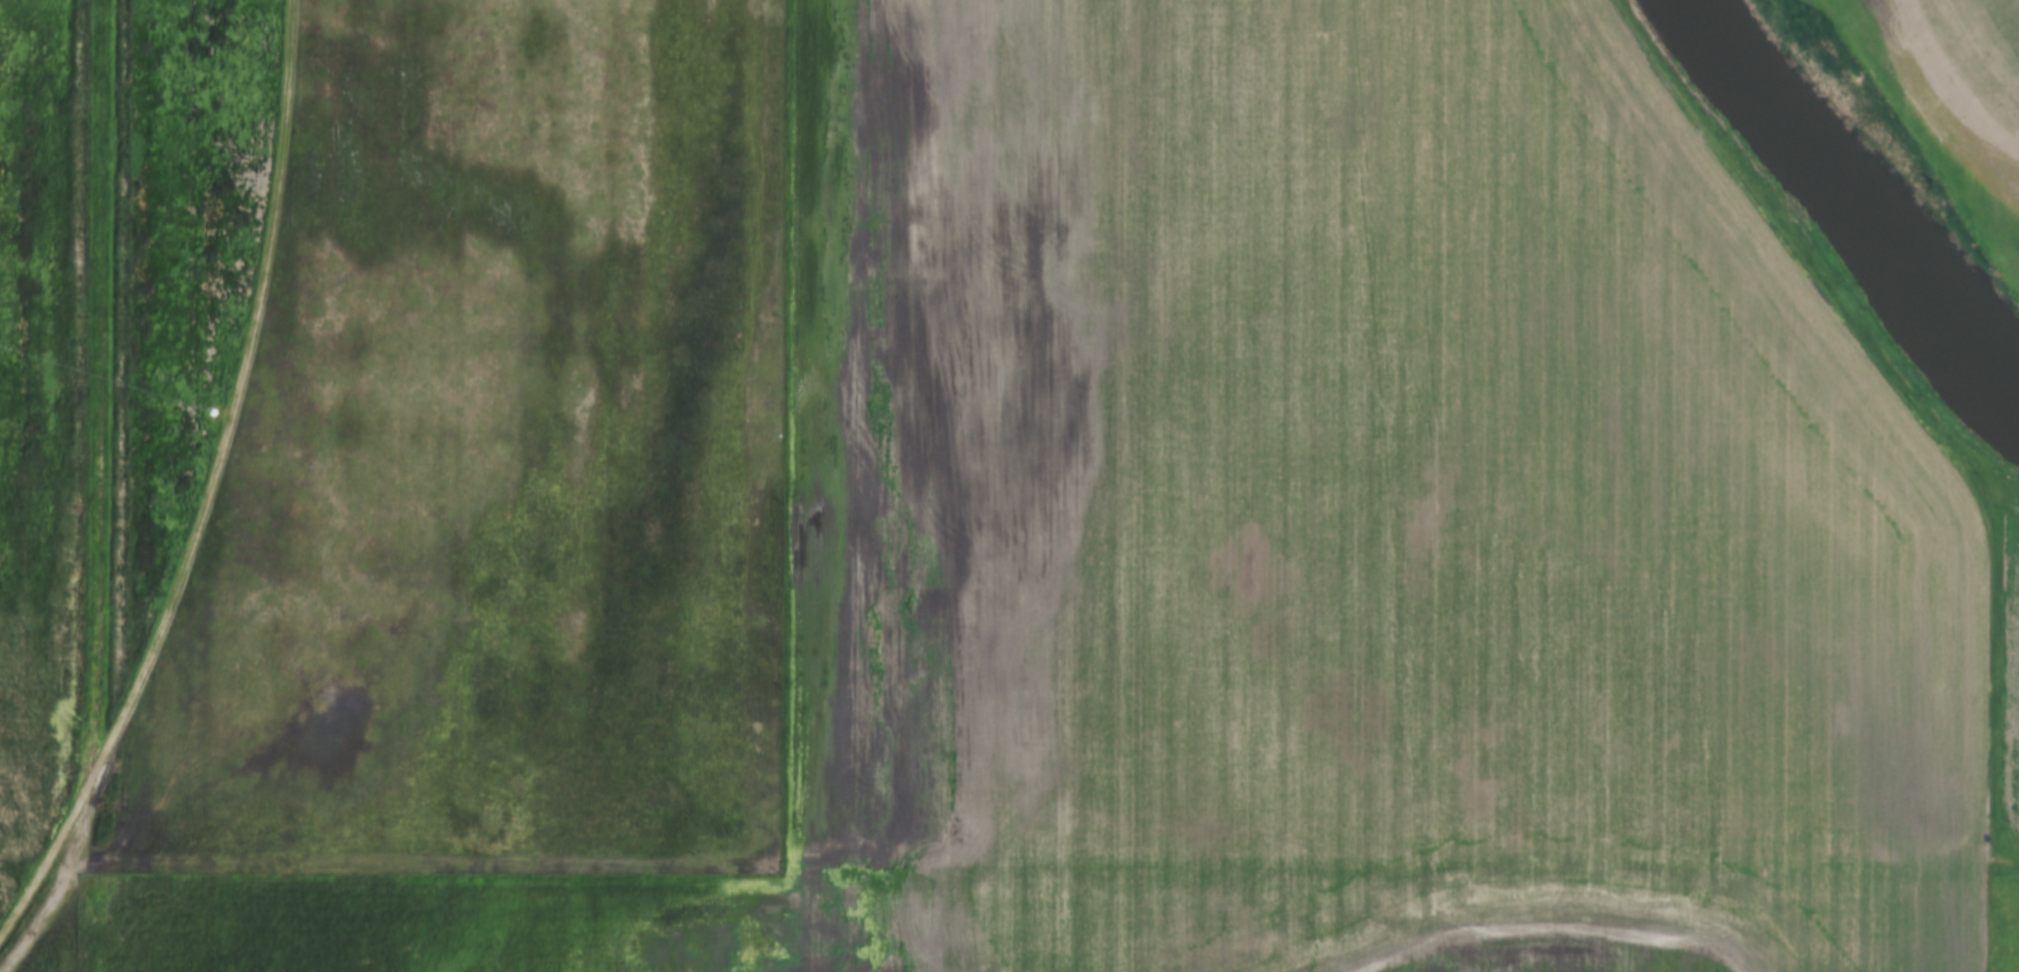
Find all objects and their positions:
river: (1858, 204)
road: (105, 392)
road: (1945, 437)
road: (212, 492)

